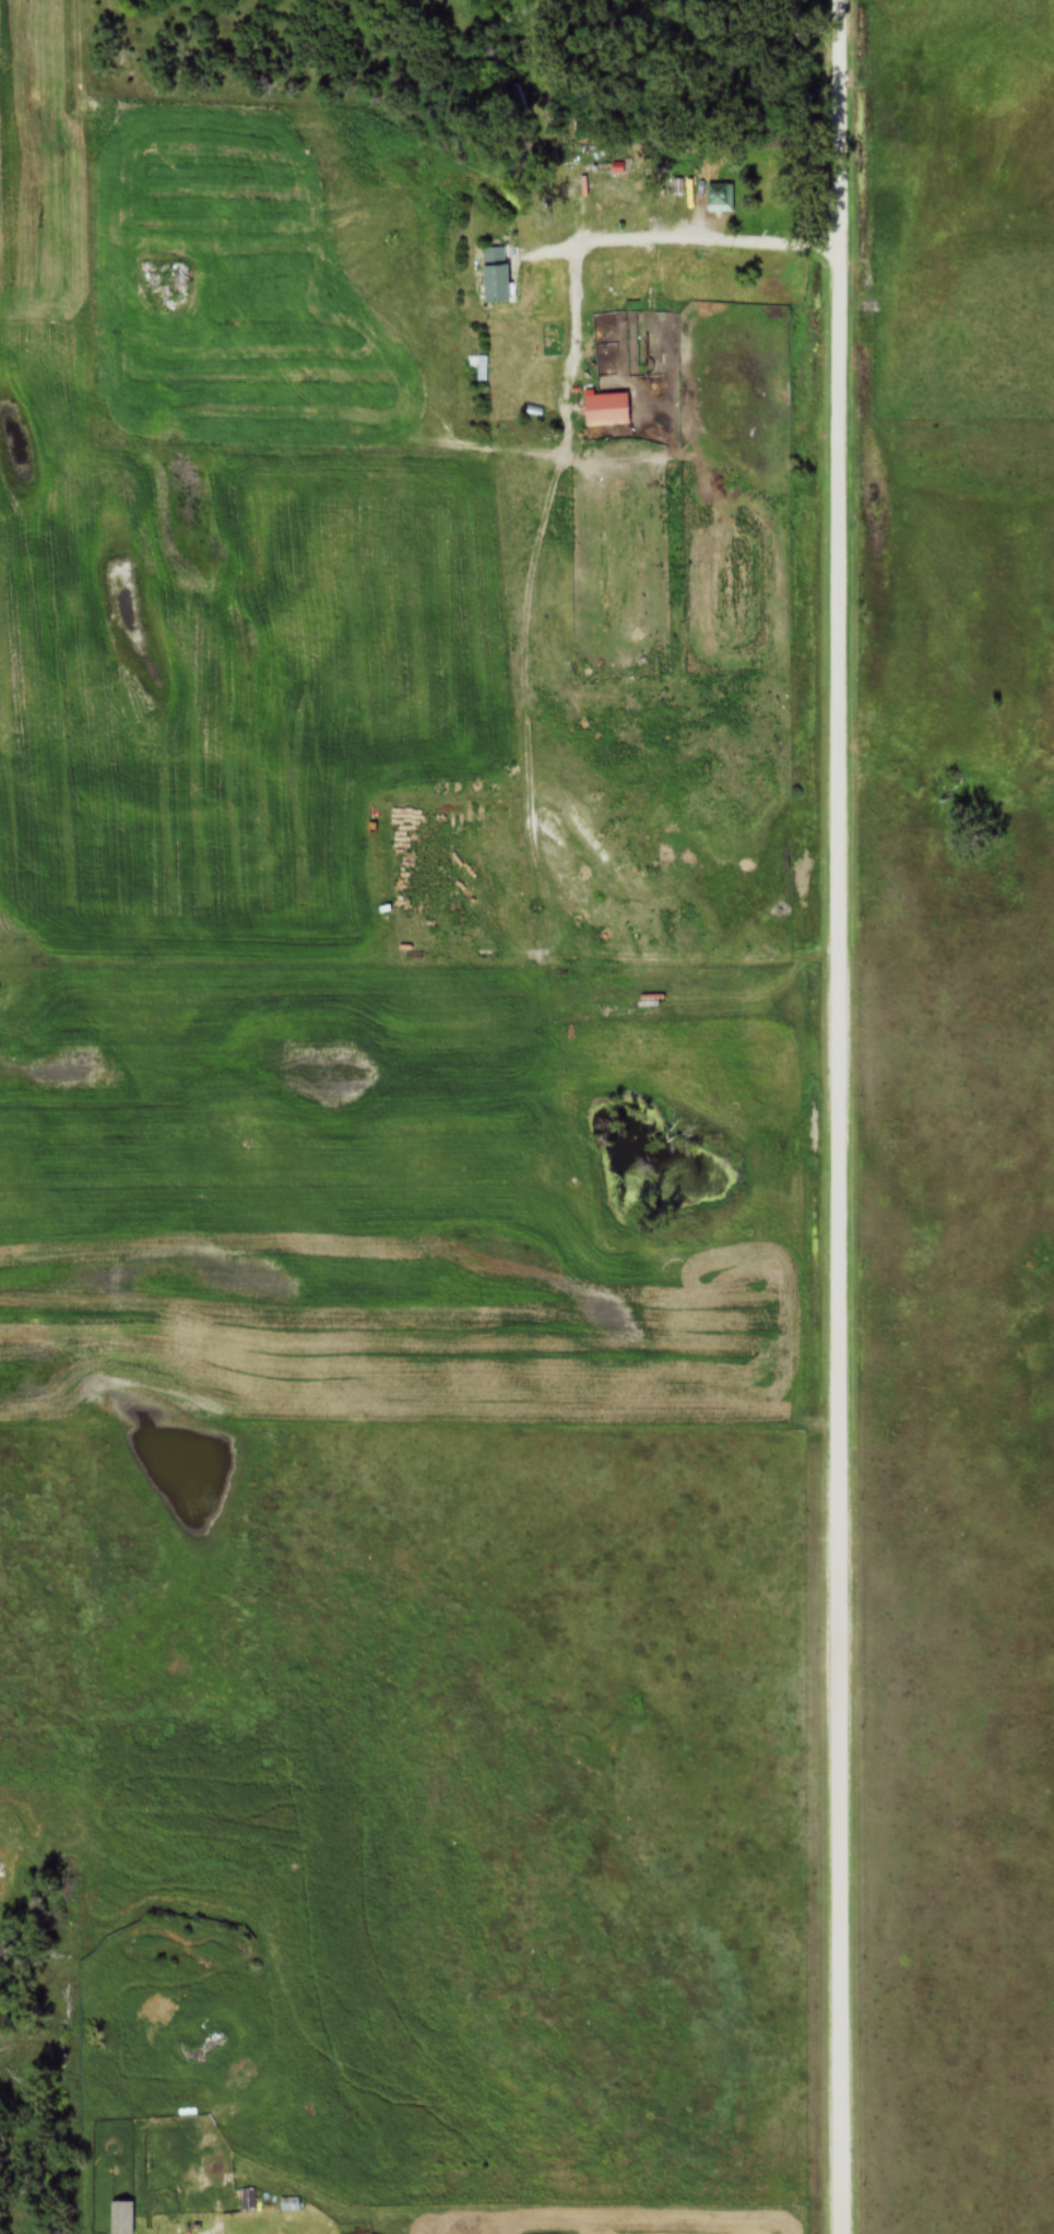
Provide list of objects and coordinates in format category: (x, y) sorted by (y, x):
building: (615, 165)
building: (720, 196)
road: (649, 238)
building: (496, 274)
building: (606, 409)
road: (833, 1116)
building: (289, 2205)
building: (121, 2218)

